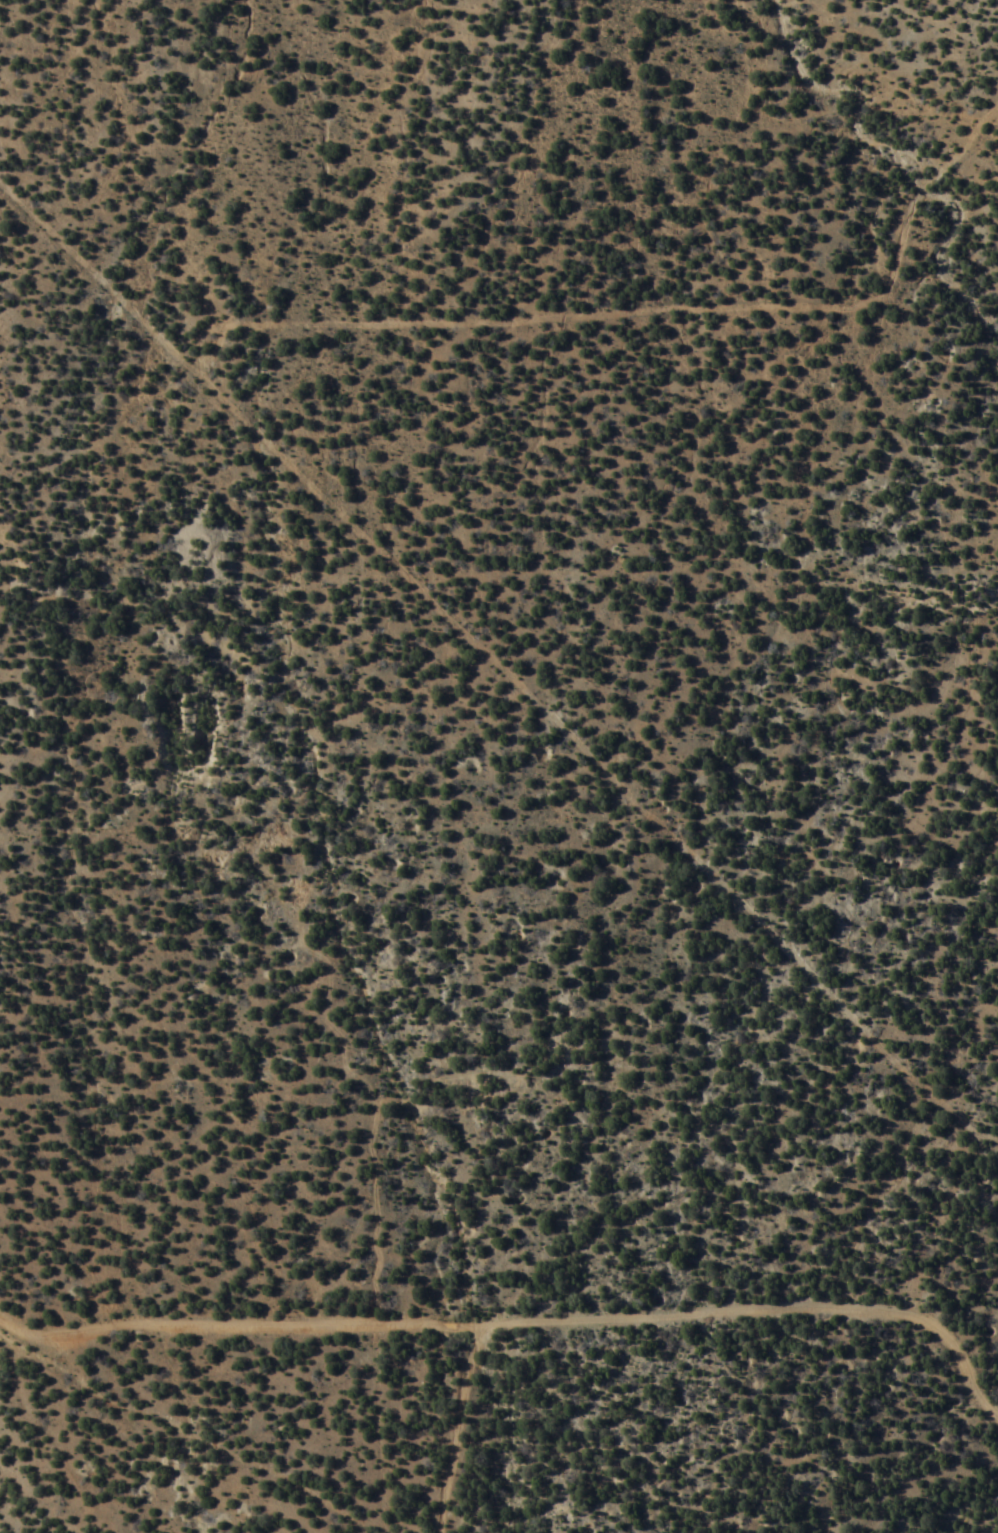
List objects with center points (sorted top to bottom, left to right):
road: (504, 1369)

